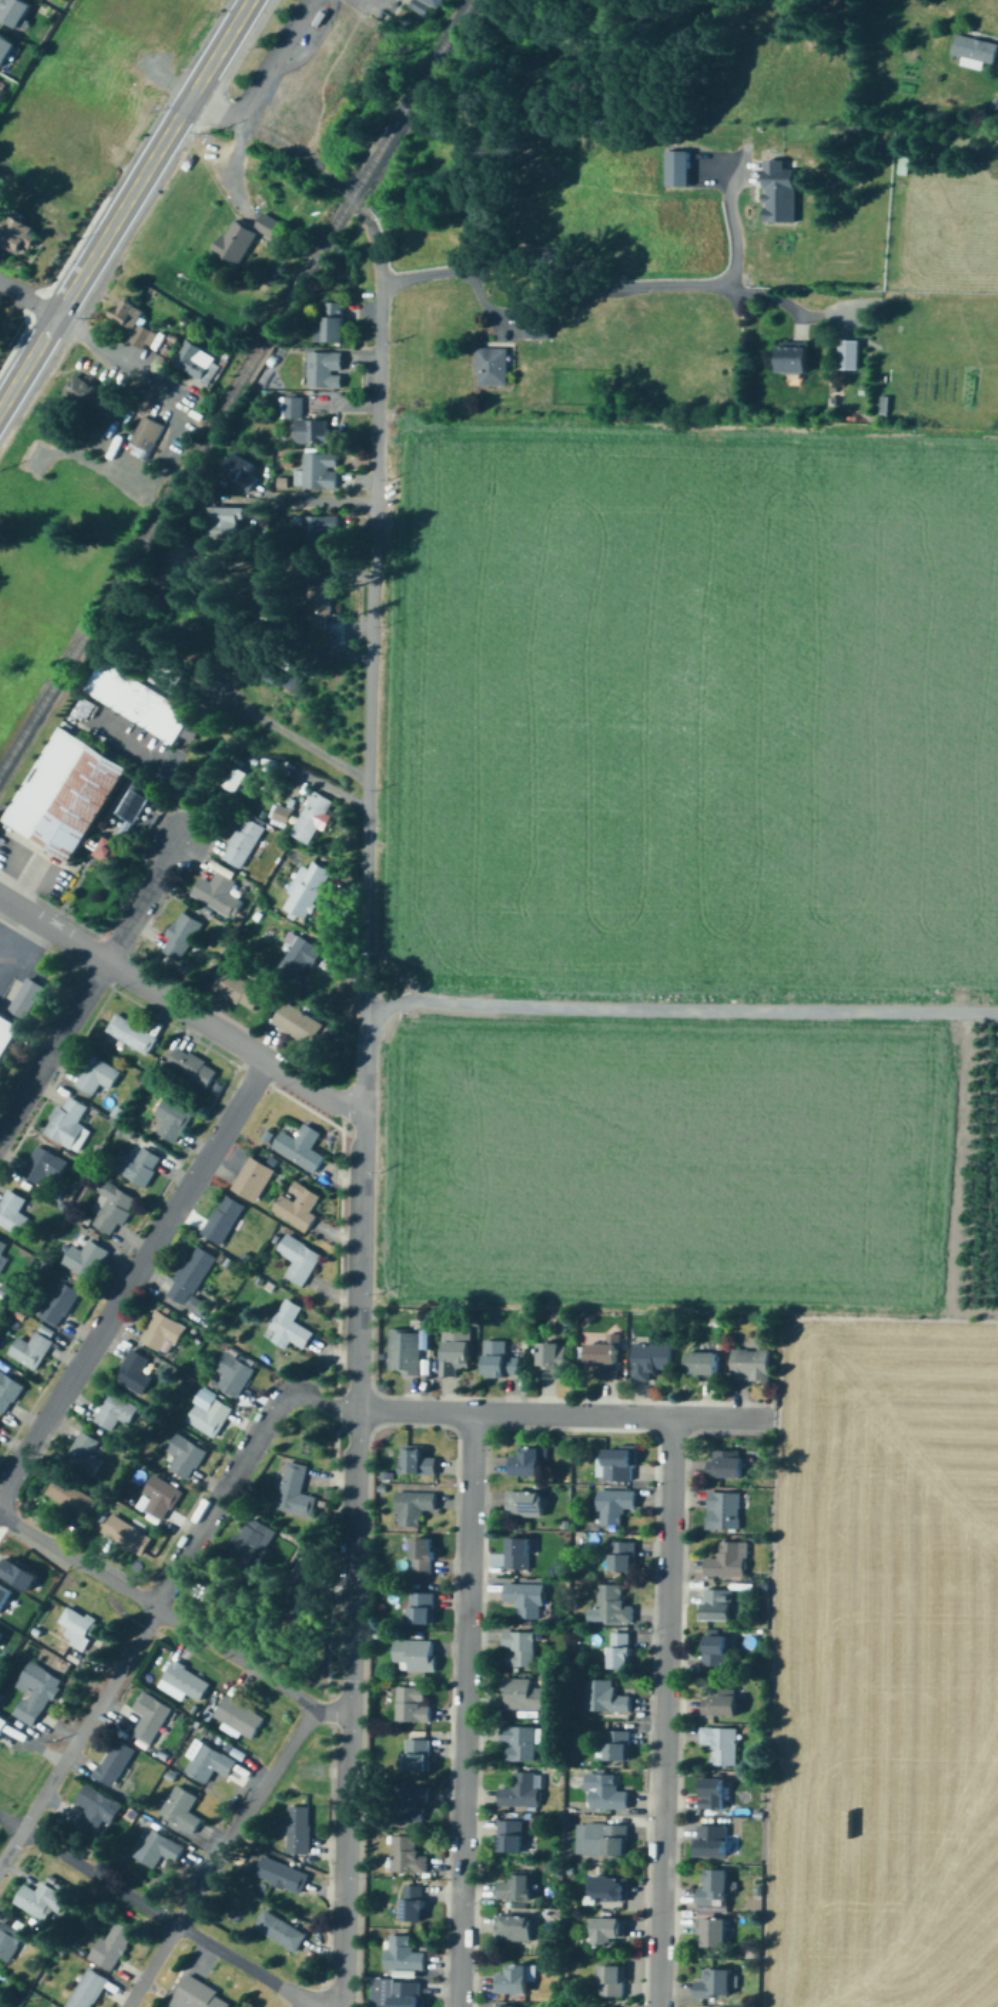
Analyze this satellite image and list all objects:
road: (368, 3)
building: (429, 6)
building: (14, 13)
building: (5, 50)
building: (974, 51)
road: (210, 65)
road: (259, 85)
building: (679, 165)
road: (234, 170)
building: (1, 180)
building: (777, 193)
road: (727, 230)
building: (18, 236)
building: (243, 239)
road: (84, 268)
road: (591, 289)
road: (27, 299)
road: (502, 311)
building: (132, 322)
building: (334, 323)
building: (536, 334)
building: (854, 353)
road: (120, 356)
building: (793, 358)
building: (197, 363)
building: (490, 367)
building: (325, 370)
railway: (234, 386)
building: (86, 395)
building: (303, 424)
building: (143, 439)
building: (319, 473)
building: (240, 474)
road: (318, 502)
building: (229, 525)
building: (320, 533)
building: (316, 610)
road: (370, 666)
building: (168, 679)
building: (142, 705)
building: (89, 706)
road: (284, 728)
building: (236, 780)
building: (65, 796)
building: (135, 803)
building: (281, 815)
building: (311, 818)
building: (242, 843)
building: (106, 853)
building: (306, 890)
building: (215, 897)
road: (141, 901)
building: (180, 937)
building: (299, 958)
building: (237, 991)
building: (26, 998)
road: (680, 1008)
road: (180, 1009)
building: (297, 1024)
building: (7, 1032)
building: (130, 1034)
crop: (716, 1038)
road: (52, 1047)
building: (190, 1067)
building: (96, 1076)
building: (65, 1118)
building: (171, 1119)
building: (300, 1147)
building: (40, 1166)
building: (138, 1166)
building: (253, 1179)
building: (296, 1206)
building: (111, 1209)
road: (363, 1210)
building: (12, 1213)
building: (222, 1220)
building: (2, 1246)
building: (85, 1259)
building: (298, 1260)
road: (132, 1276)
building: (191, 1280)
building: (58, 1302)
building: (290, 1326)
building: (161, 1333)
building: (32, 1348)
building: (457, 1352)
building: (404, 1353)
building: (604, 1359)
building: (499, 1361)
building: (553, 1361)
building: (649, 1361)
building: (703, 1365)
building: (751, 1366)
building: (134, 1372)
building: (231, 1375)
building: (7, 1392)
building: (115, 1410)
road: (563, 1414)
building: (208, 1417)
building: (0, 1423)
building: (0, 1429)
building: (83, 1455)
building: (184, 1456)
building: (417, 1461)
building: (527, 1463)
building: (619, 1463)
building: (725, 1464)
building: (292, 1491)
building: (70, 1497)
building: (158, 1498)
building: (526, 1504)
building: (614, 1505)
building: (413, 1507)
building: (723, 1510)
building: (125, 1535)
building: (249, 1542)
building: (517, 1553)
building: (423, 1556)
building: (621, 1556)
building: (727, 1560)
building: (24, 1573)
building: (6, 1596)
road: (161, 1596)
building: (526, 1600)
building: (612, 1605)
building: (718, 1605)
building: (421, 1610)
road: (174, 1619)
building: (80, 1627)
building: (3, 1637)
building: (519, 1650)
building: (716, 1650)
building: (620, 1652)
building: (414, 1656)
road: (351, 1658)
building: (183, 1683)
building: (39, 1691)
building: (524, 1695)
building: (603, 1698)
building: (721, 1703)
building: (412, 1705)
road: (464, 1710)
road: (664, 1712)
building: (238, 1717)
building: (151, 1719)
building: (4, 1725)
building: (518, 1744)
building: (720, 1745)
building: (617, 1747)
building: (417, 1756)
building: (112, 1763)
building: (209, 1764)
building: (521, 1792)
building: (607, 1794)
building: (712, 1797)
building: (413, 1804)
building: (181, 1810)
building: (92, 1811)
building: (298, 1831)
building: (510, 1837)
building: (601, 1840)
building: (712, 1841)
building: (156, 1849)
building: (406, 1856)
road: (219, 1857)
building: (278, 1875)
building: (515, 1888)
building: (608, 1889)
building: (714, 1889)
building: (45, 1896)
building: (413, 1904)
road: (155, 1912)
building: (516, 1929)
building: (278, 1931)
building: (608, 1932)
building: (713, 1932)
building: (10, 1938)
building: (111, 1945)
building: (402, 1955)
building: (514, 1980)
building: (612, 1982)
building: (714, 1986)
building: (86, 1990)
building: (406, 1994)
building: (198, 1996)
building: (511, 2006)

